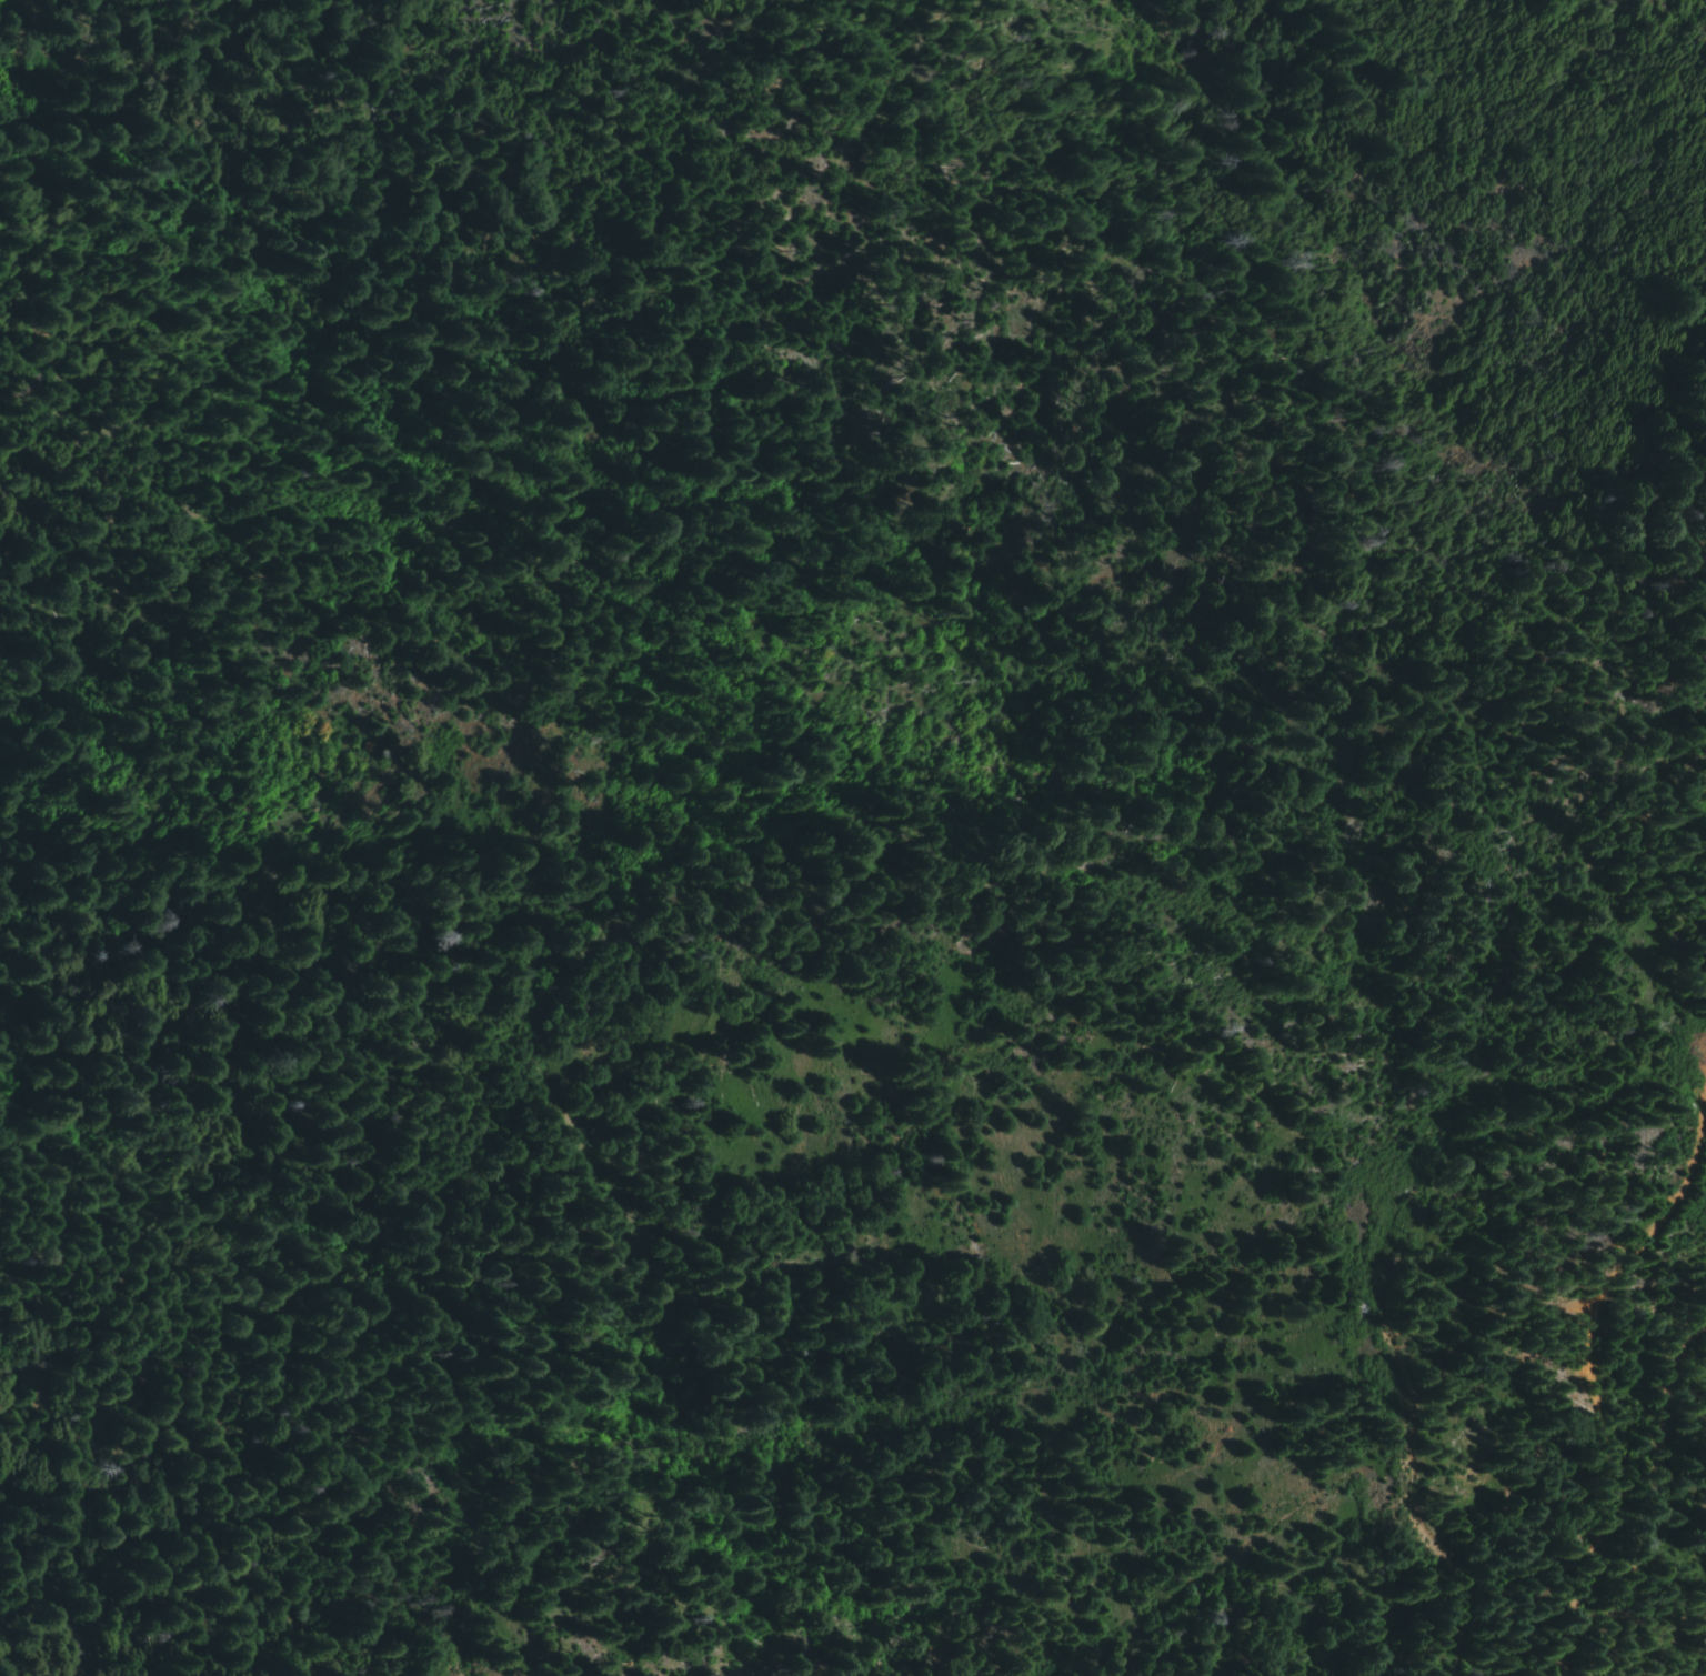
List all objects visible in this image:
road: (1638, 1503)

